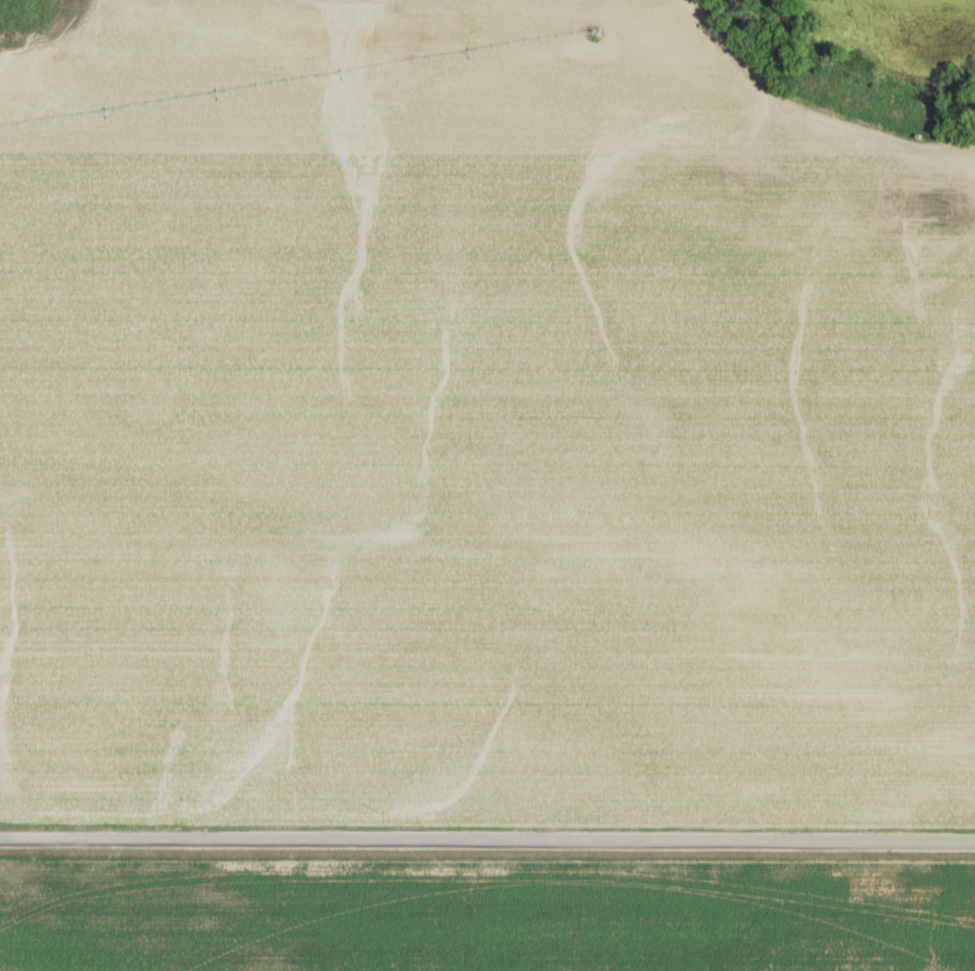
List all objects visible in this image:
road: (487, 844)

